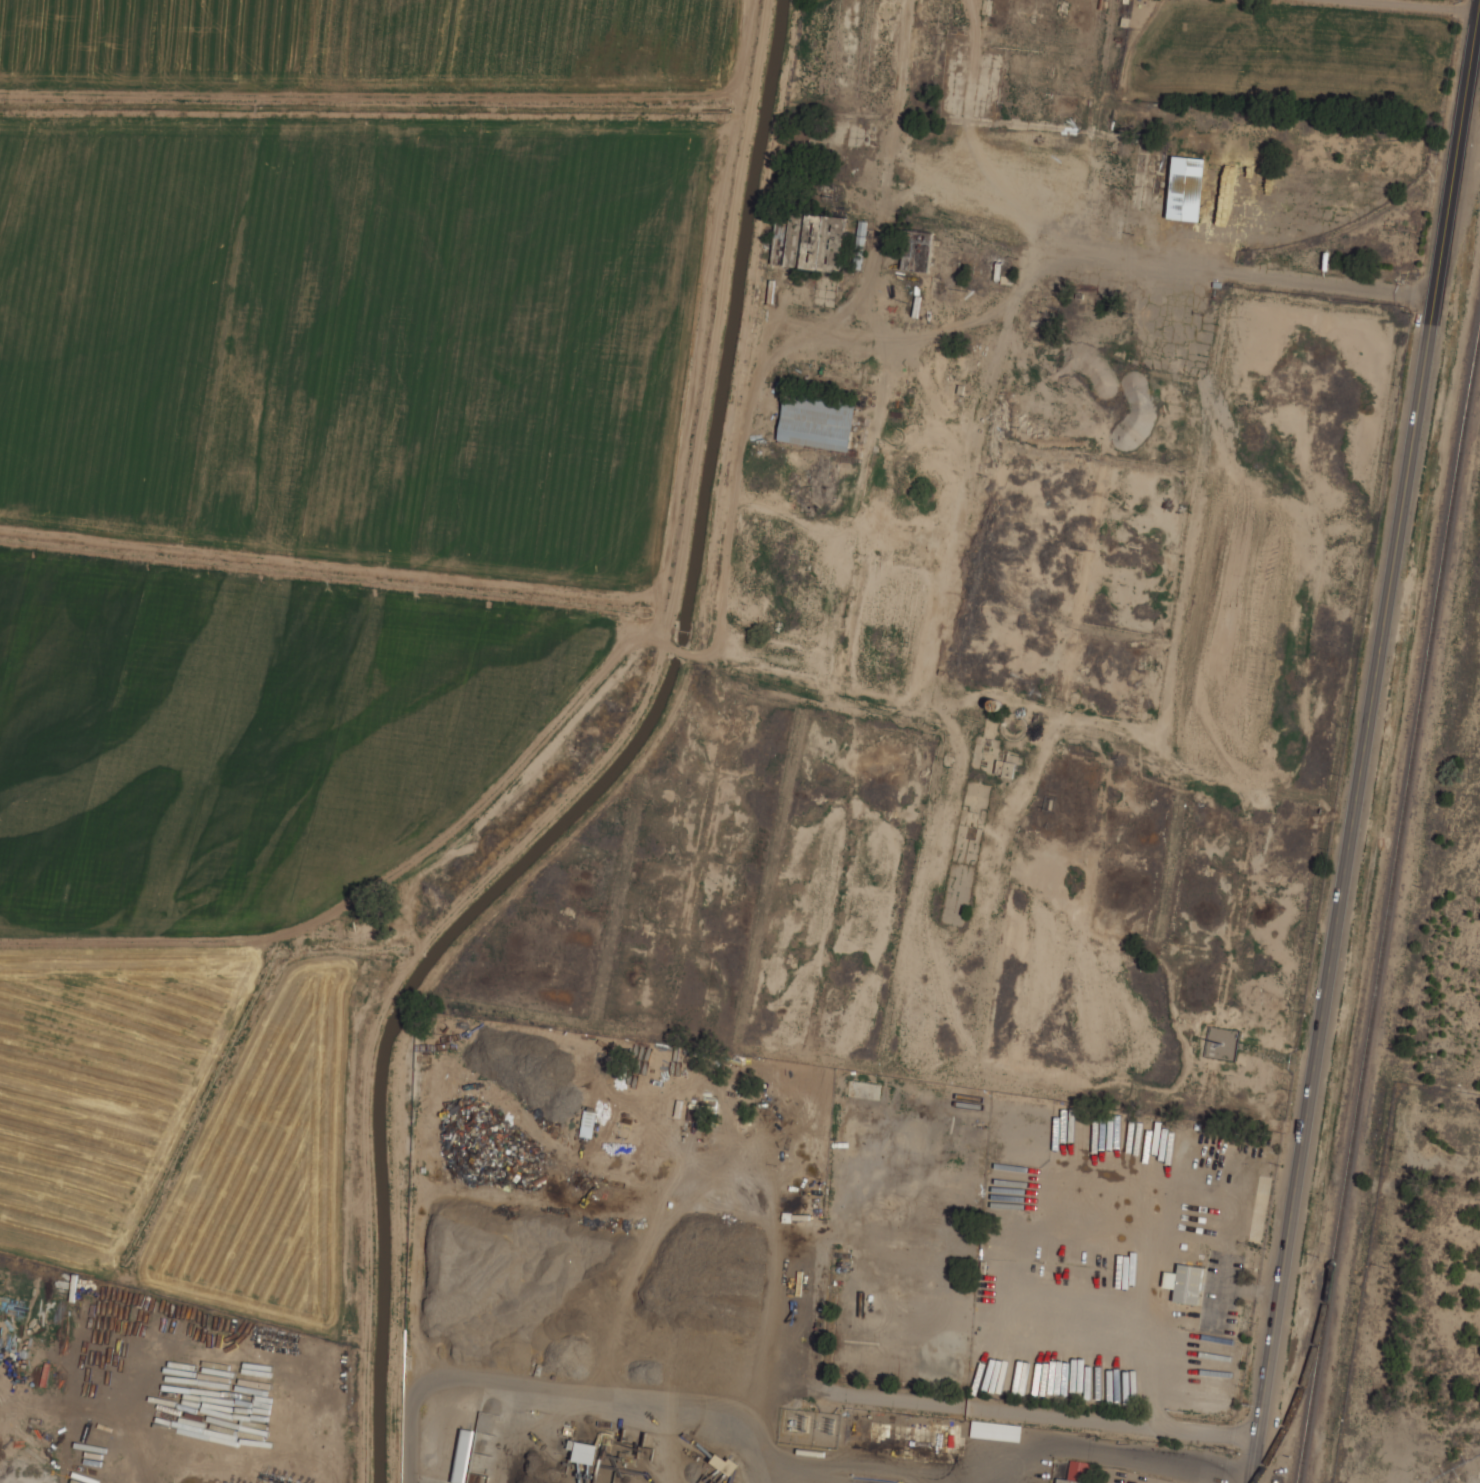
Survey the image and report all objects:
road: (1412, 6)
crop: (1288, 31)
railway: (1479, 112)
building: (1188, 188)
railway: (1347, 226)
building: (810, 241)
building: (861, 244)
building: (918, 251)
building: (817, 422)
crop: (318, 550)
road: (1365, 751)
building: (1010, 768)
railway: (1388, 907)
building: (669, 1072)
building: (708, 1090)
building: (588, 1123)
building: (966, 1192)
building: (1186, 1283)
railway: (1302, 1387)
road: (977, 1407)
building: (996, 1430)
building: (586, 1452)
building: (464, 1455)
road: (832, 1461)
building: (1079, 1473)

